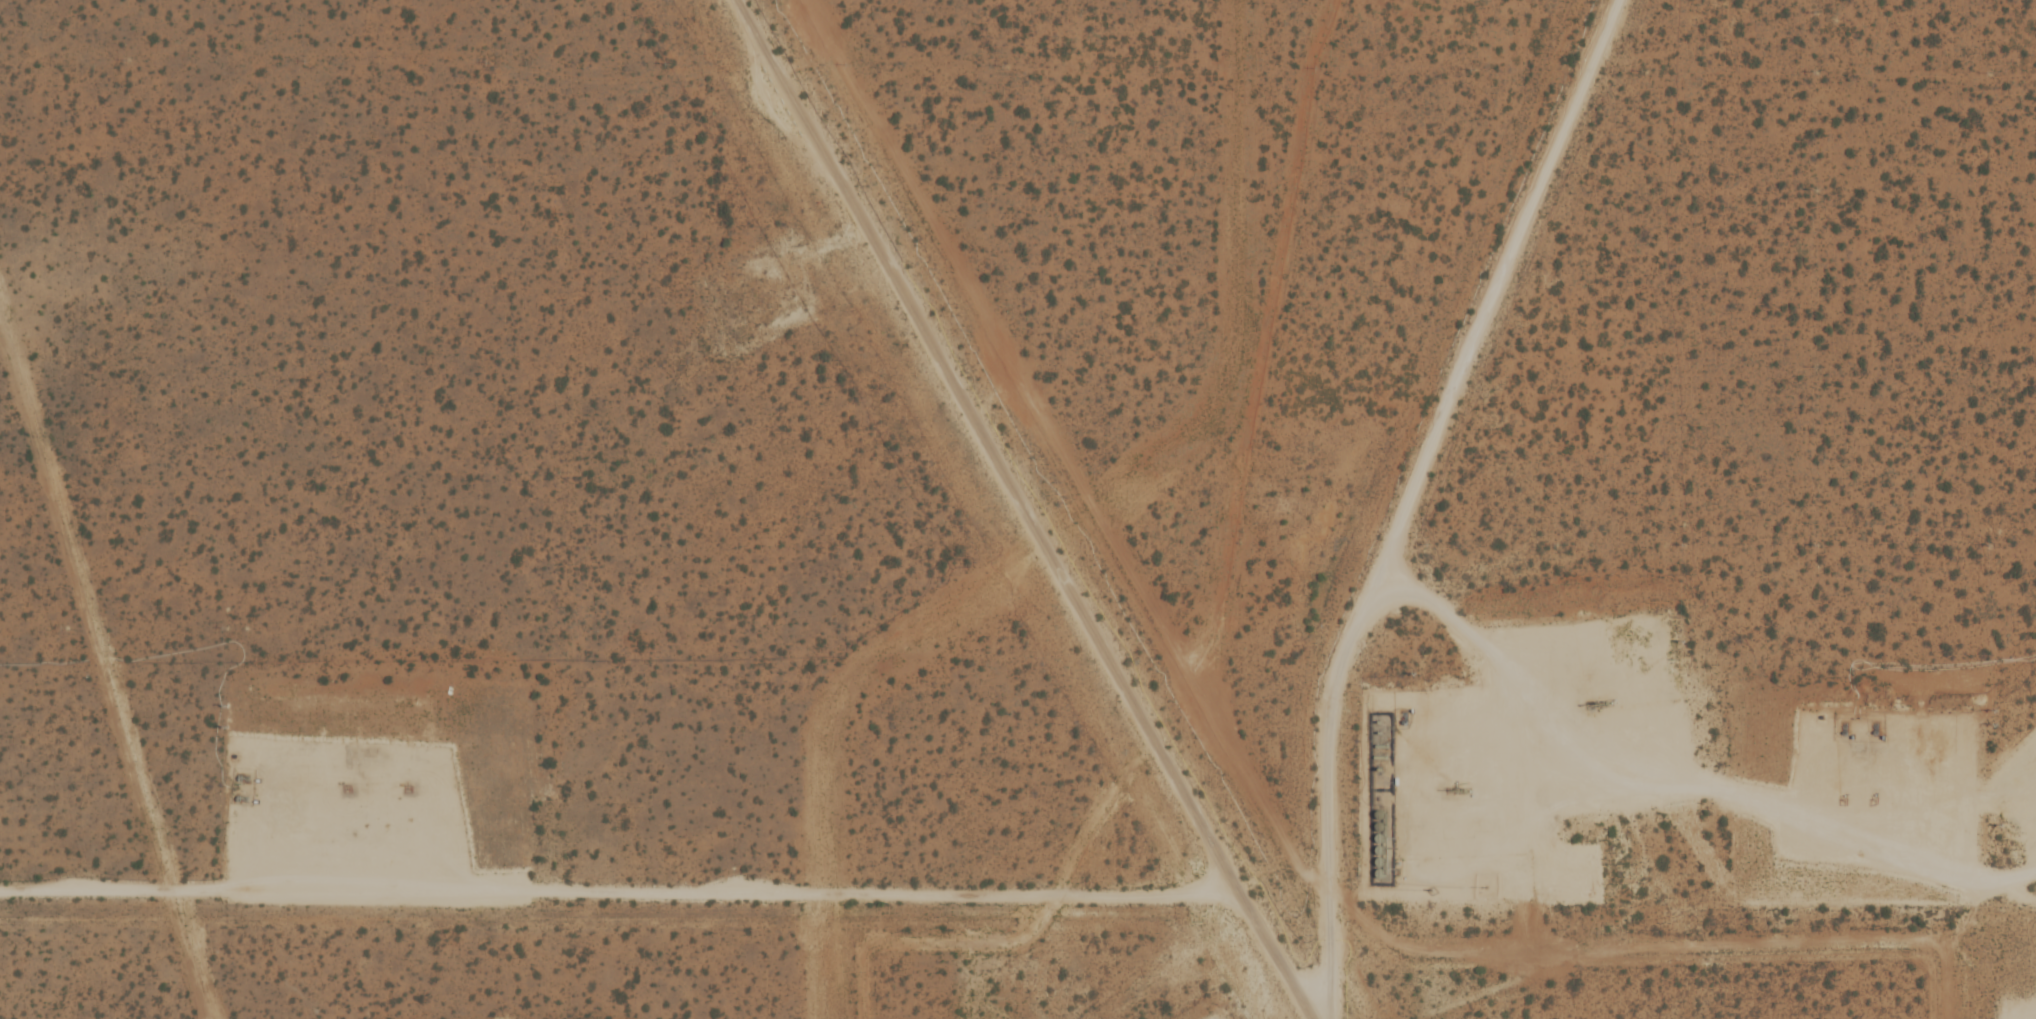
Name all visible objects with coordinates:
road: (1433, 506)
road: (1021, 511)
road: (1485, 706)
road: (1670, 789)
road: (1879, 807)
road: (326, 812)
road: (619, 890)

